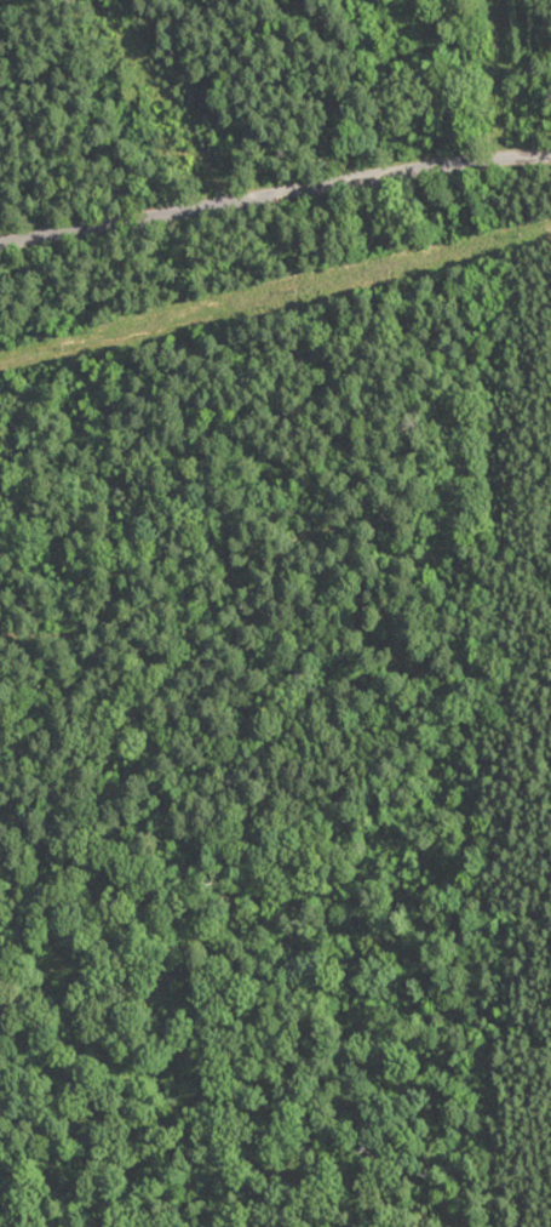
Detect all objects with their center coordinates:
road: (274, 194)

